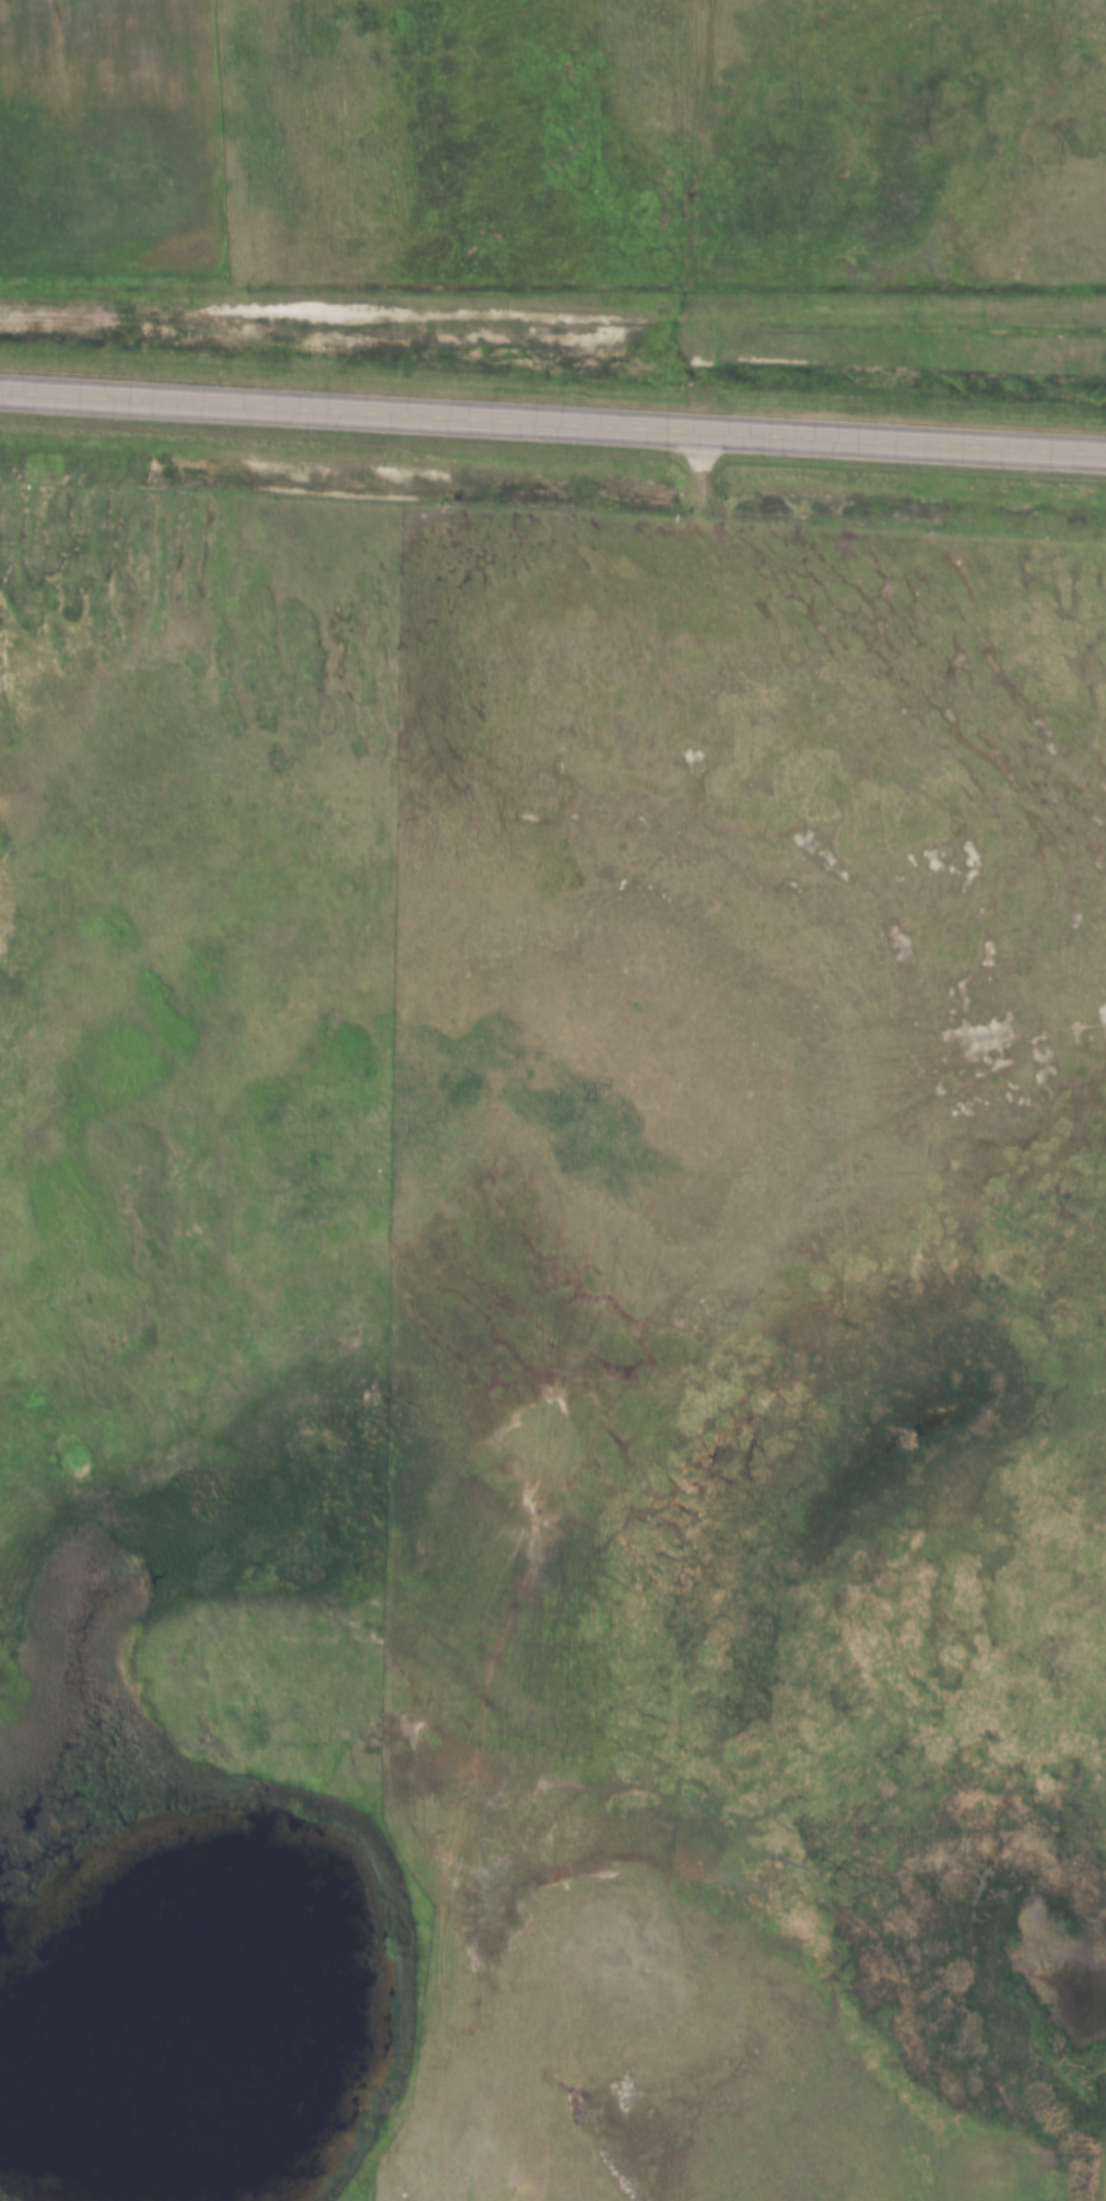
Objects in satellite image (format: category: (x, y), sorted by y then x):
road: (552, 417)

